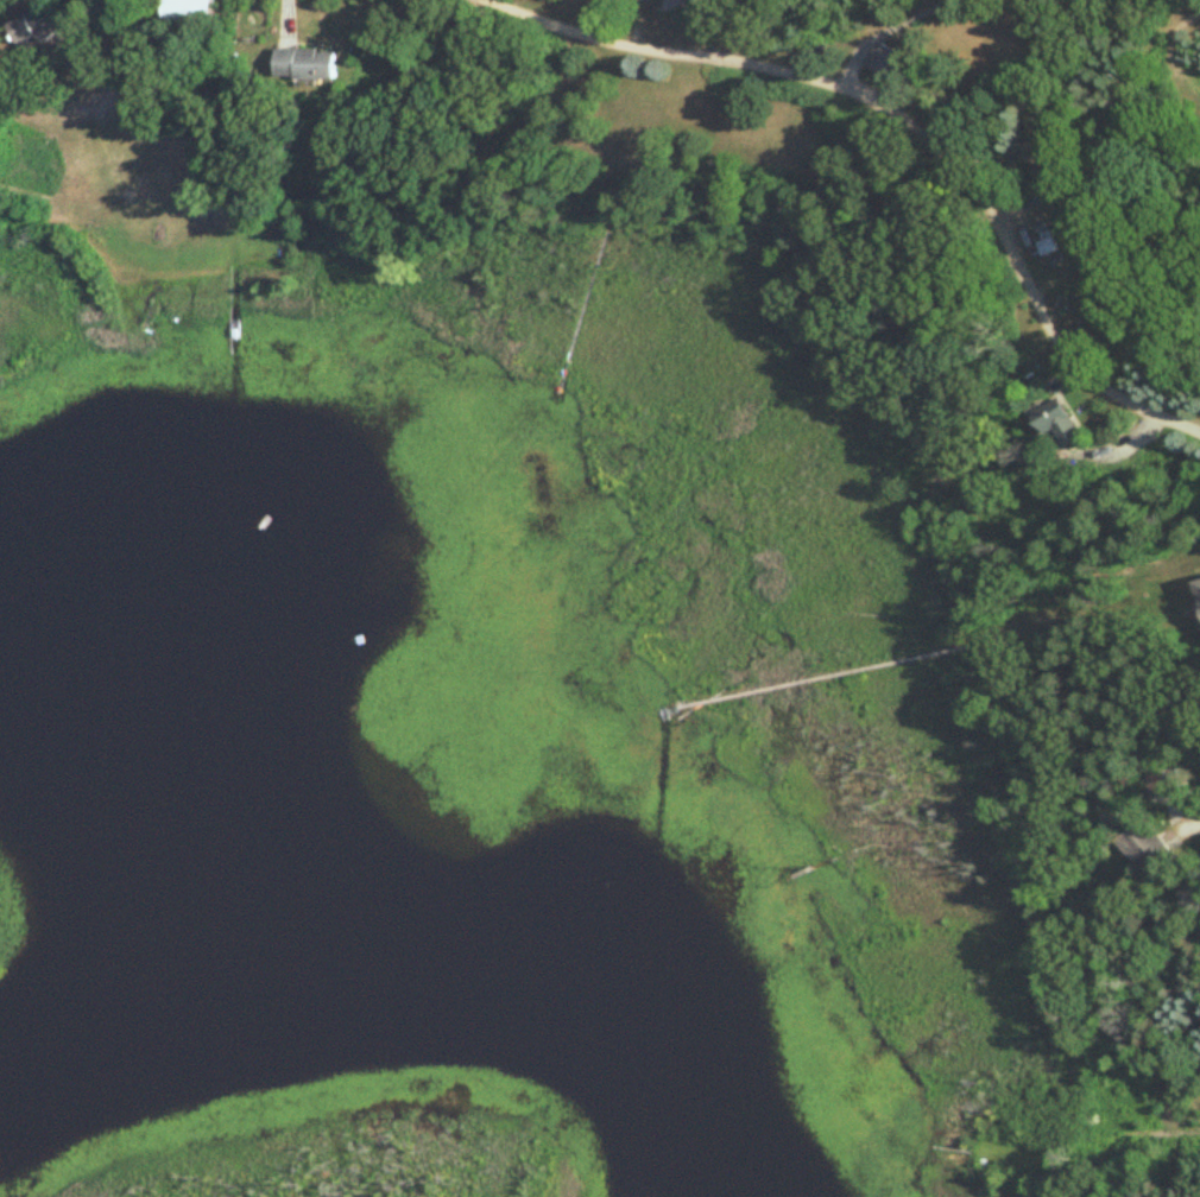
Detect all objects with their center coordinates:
building: (644, 0)
building: (672, 8)
building: (188, 12)
road: (882, 26)
building: (31, 28)
building: (886, 63)
building: (305, 64)
road: (910, 123)
building: (1047, 176)
building: (1046, 247)
building: (1056, 420)
building: (1171, 805)
road: (1194, 822)
building: (1145, 844)

